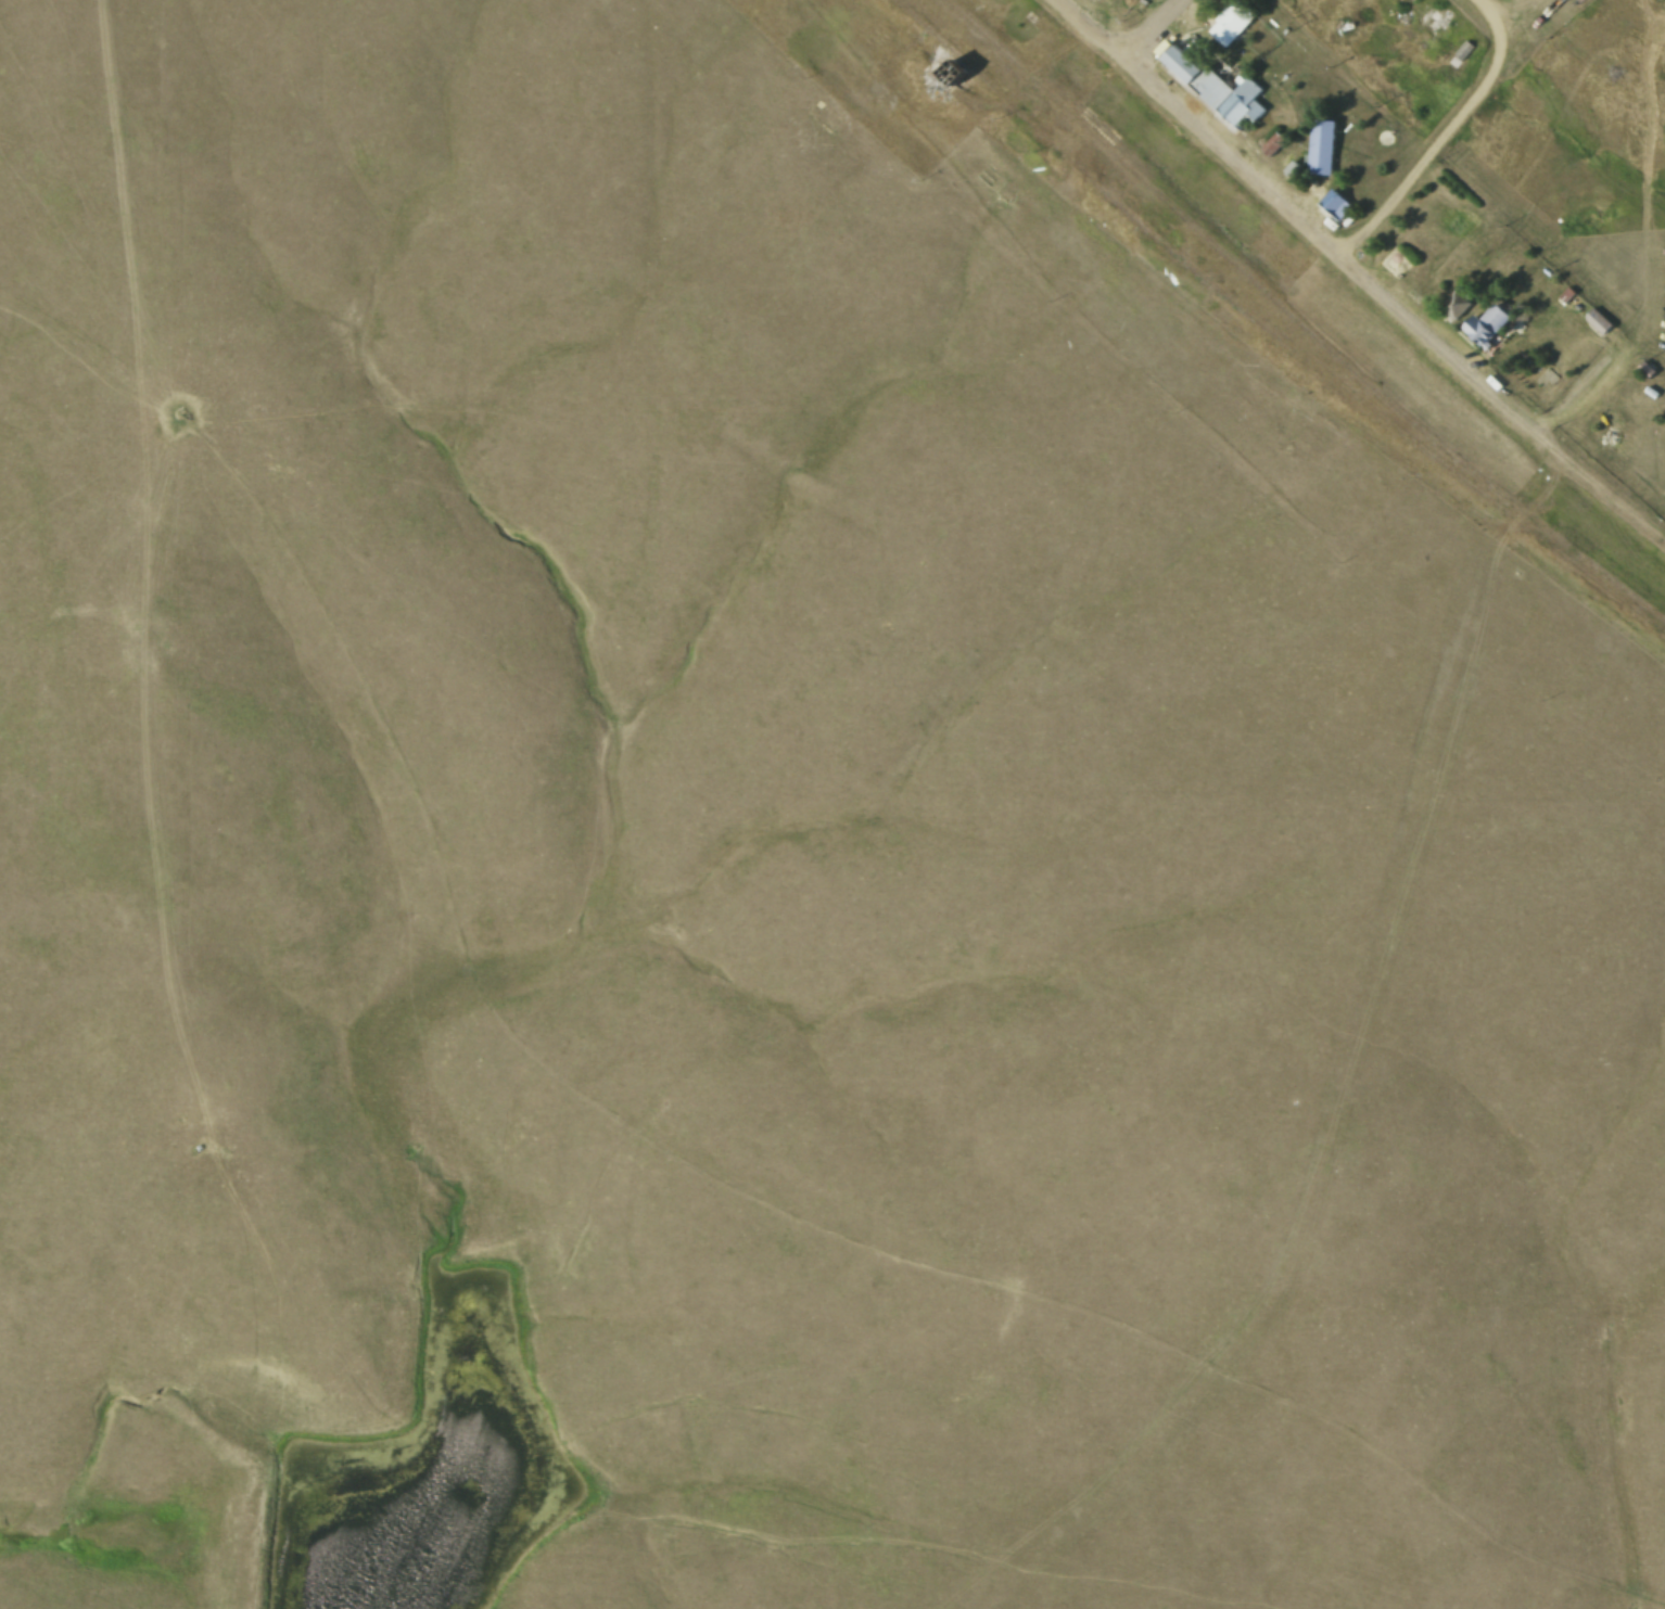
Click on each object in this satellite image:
building: (1408, 2)
building: (1434, 21)
building: (1234, 23)
road: (1161, 35)
building: (1462, 47)
building: (1216, 86)
road: (1450, 140)
building: (1275, 144)
building: (1321, 148)
building: (1298, 173)
building: (1335, 203)
railway: (1127, 214)
building: (1397, 264)
road: (1358, 277)
building: (1565, 296)
building: (1459, 302)
building: (1598, 323)
railway: (1291, 324)
building: (1490, 324)
building: (1645, 374)
railway: (1217, 382)

